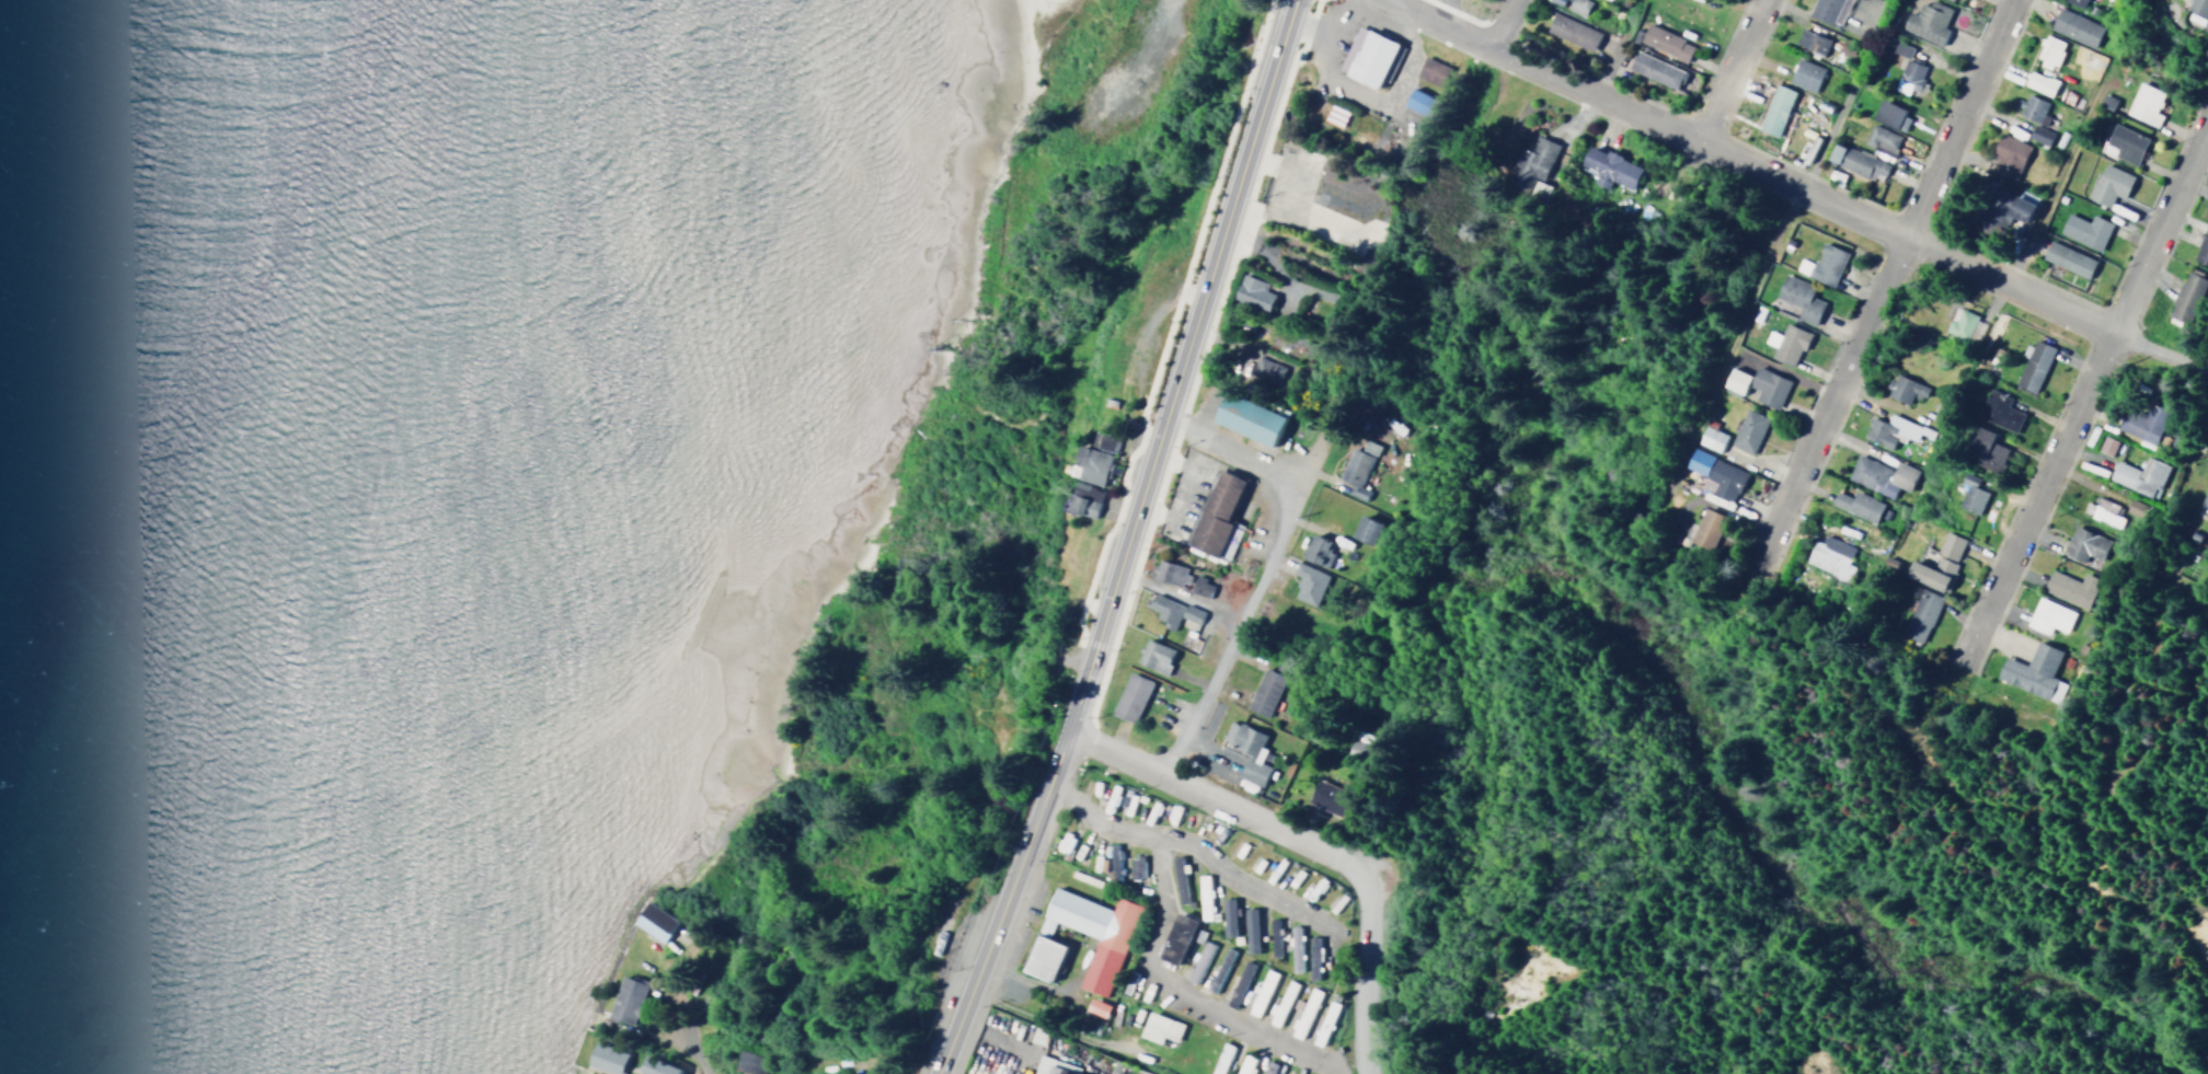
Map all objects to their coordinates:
building: (1950, 0)
building: (2074, 2)
building: (1576, 7)
building: (2197, 7)
building: (1828, 11)
building: (1927, 22)
road: (1500, 24)
building: (2074, 26)
building: (1571, 31)
building: (1810, 41)
building: (1664, 42)
building: (1898, 48)
building: (2047, 50)
building: (1365, 55)
building: (1654, 69)
building: (1430, 70)
road: (1725, 71)
building: (1804, 74)
building: (1908, 77)
building: (2038, 82)
building: (1418, 102)
building: (2142, 104)
building: (2031, 107)
building: (1774, 109)
building: (1889, 115)
building: (2038, 135)
building: (1879, 139)
building: (2121, 143)
building: (2006, 155)
building: (1854, 160)
building: (1309, 161)
building: (1530, 163)
building: (1608, 168)
road: (1749, 168)
building: (2108, 184)
building: (2003, 207)
building: (2083, 230)
road: (2159, 230)
building: (2201, 246)
building: (2067, 258)
building: (1822, 264)
road: (1882, 284)
building: (1251, 292)
building: (1798, 298)
building: (2182, 299)
building: (1958, 322)
building: (1785, 343)
road: (2160, 355)
road: (1181, 365)
building: (2032, 365)
building: (1263, 369)
building: (1734, 381)
building: (1767, 386)
building: (1902, 389)
building: (1998, 411)
building: (1247, 418)
building: (2142, 421)
building: (1747, 430)
building: (1890, 430)
building: (1709, 438)
building: (1105, 441)
building: (2105, 444)
building: (1368, 447)
building: (1986, 450)
building: (1089, 465)
building: (1354, 472)
building: (1714, 474)
building: (1879, 475)
building: (2138, 476)
building: (1970, 494)
road: (2037, 497)
building: (1082, 499)
building: (2203, 503)
building: (1856, 505)
building: (2100, 510)
building: (1219, 511)
building: (1706, 527)
building: (1365, 530)
building: (2084, 546)
building: (1316, 550)
building: (1829, 556)
road: (1261, 563)
building: (1937, 563)
building: (1168, 571)
building: (1306, 582)
building: (1198, 586)
building: (2069, 588)
building: (1162, 610)
building: (1188, 613)
building: (1918, 614)
building: (2048, 615)
building: (1152, 655)
building: (2032, 671)
building: (1263, 692)
building: (1129, 696)
building: (1246, 751)
building: (1324, 799)
road: (1221, 800)
road: (1207, 854)
building: (1112, 858)
building: (1134, 866)
building: (1176, 879)
building: (1201, 897)
road: (1002, 902)
building: (1226, 917)
building: (653, 921)
building: (1249, 931)
building: (1092, 933)
building: (1272, 937)
building: (1174, 938)
building: (1293, 949)
building: (1042, 958)
building: (1312, 958)
building: (1197, 962)
building: (1218, 970)
road: (1361, 982)
building: (1238, 983)
road: (1182, 991)
building: (1257, 994)
building: (624, 1000)
building: (1280, 1003)
building: (1095, 1007)
building: (1303, 1013)
building: (1323, 1023)
building: (1158, 1028)
building: (605, 1059)
building: (747, 1063)
building: (1242, 1064)
building: (1046, 1065)
building: (654, 1066)
building: (1267, 1067)

